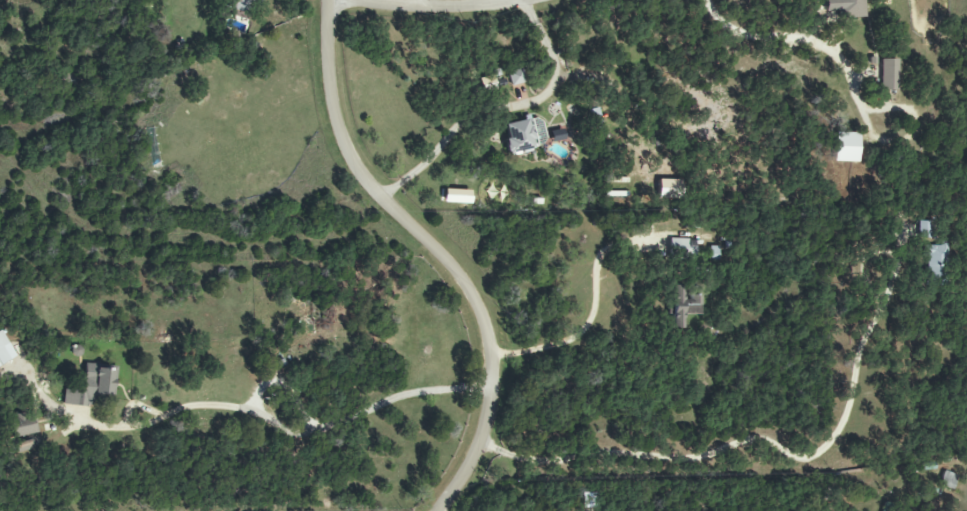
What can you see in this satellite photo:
road: (468, 3)
building: (237, 4)
road: (452, 5)
building: (846, 8)
road: (795, 40)
building: (888, 75)
building: (516, 77)
road: (500, 110)
road: (915, 134)
building: (846, 147)
building: (925, 230)
building: (681, 248)
road: (437, 252)
building: (936, 263)
building: (682, 306)
road: (589, 313)
building: (3, 351)
building: (93, 388)
building: (22, 425)
road: (292, 430)
road: (752, 442)
building: (22, 446)
building: (947, 480)

